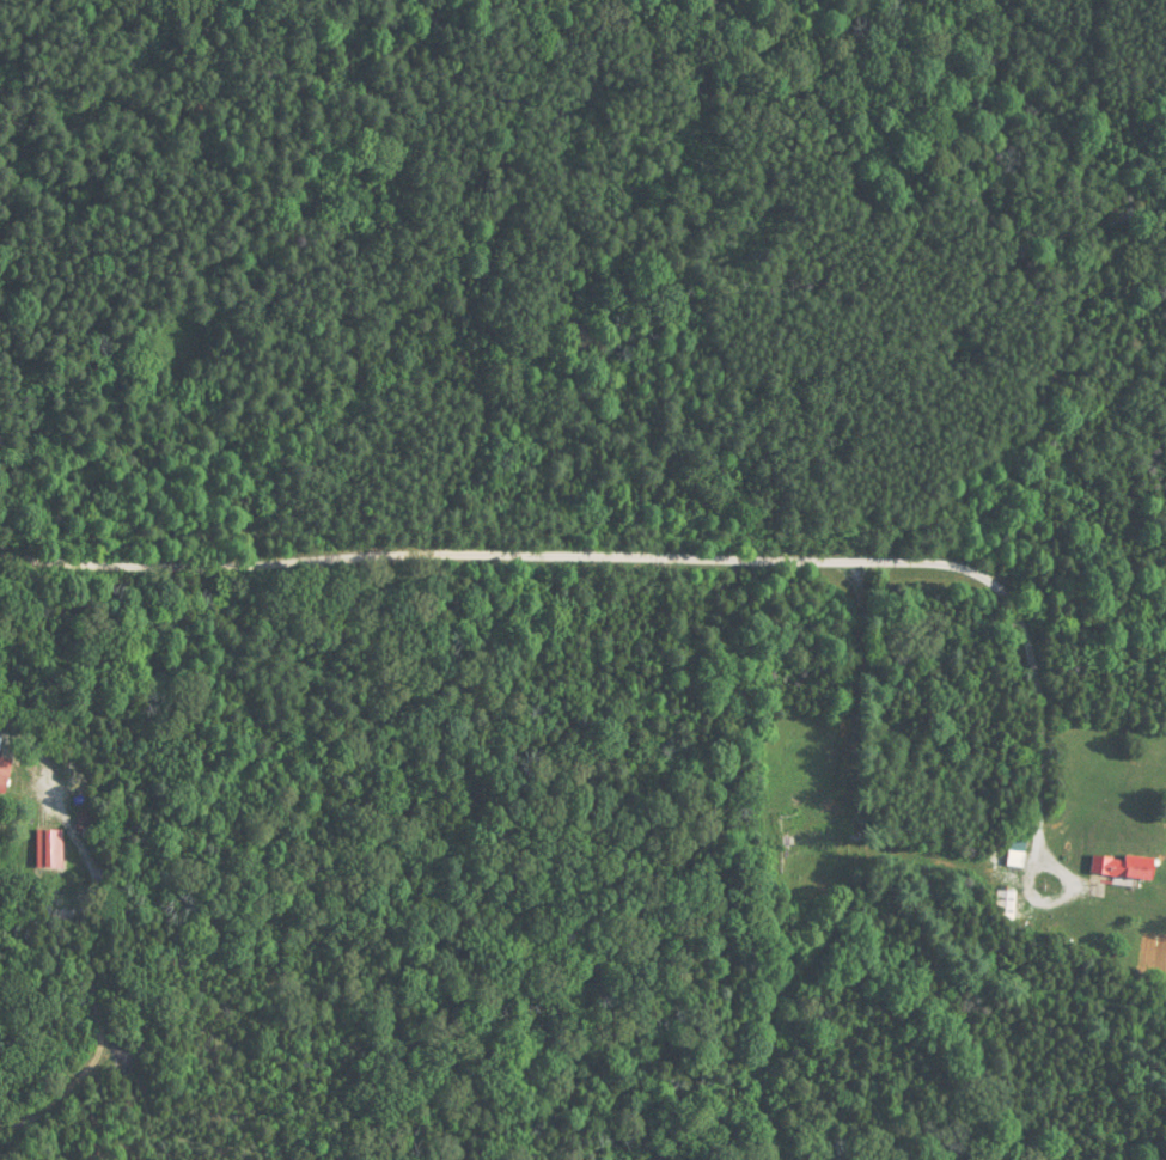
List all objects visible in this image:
road: (634, 555)
building: (4, 775)
building: (45, 851)
building: (1123, 867)

